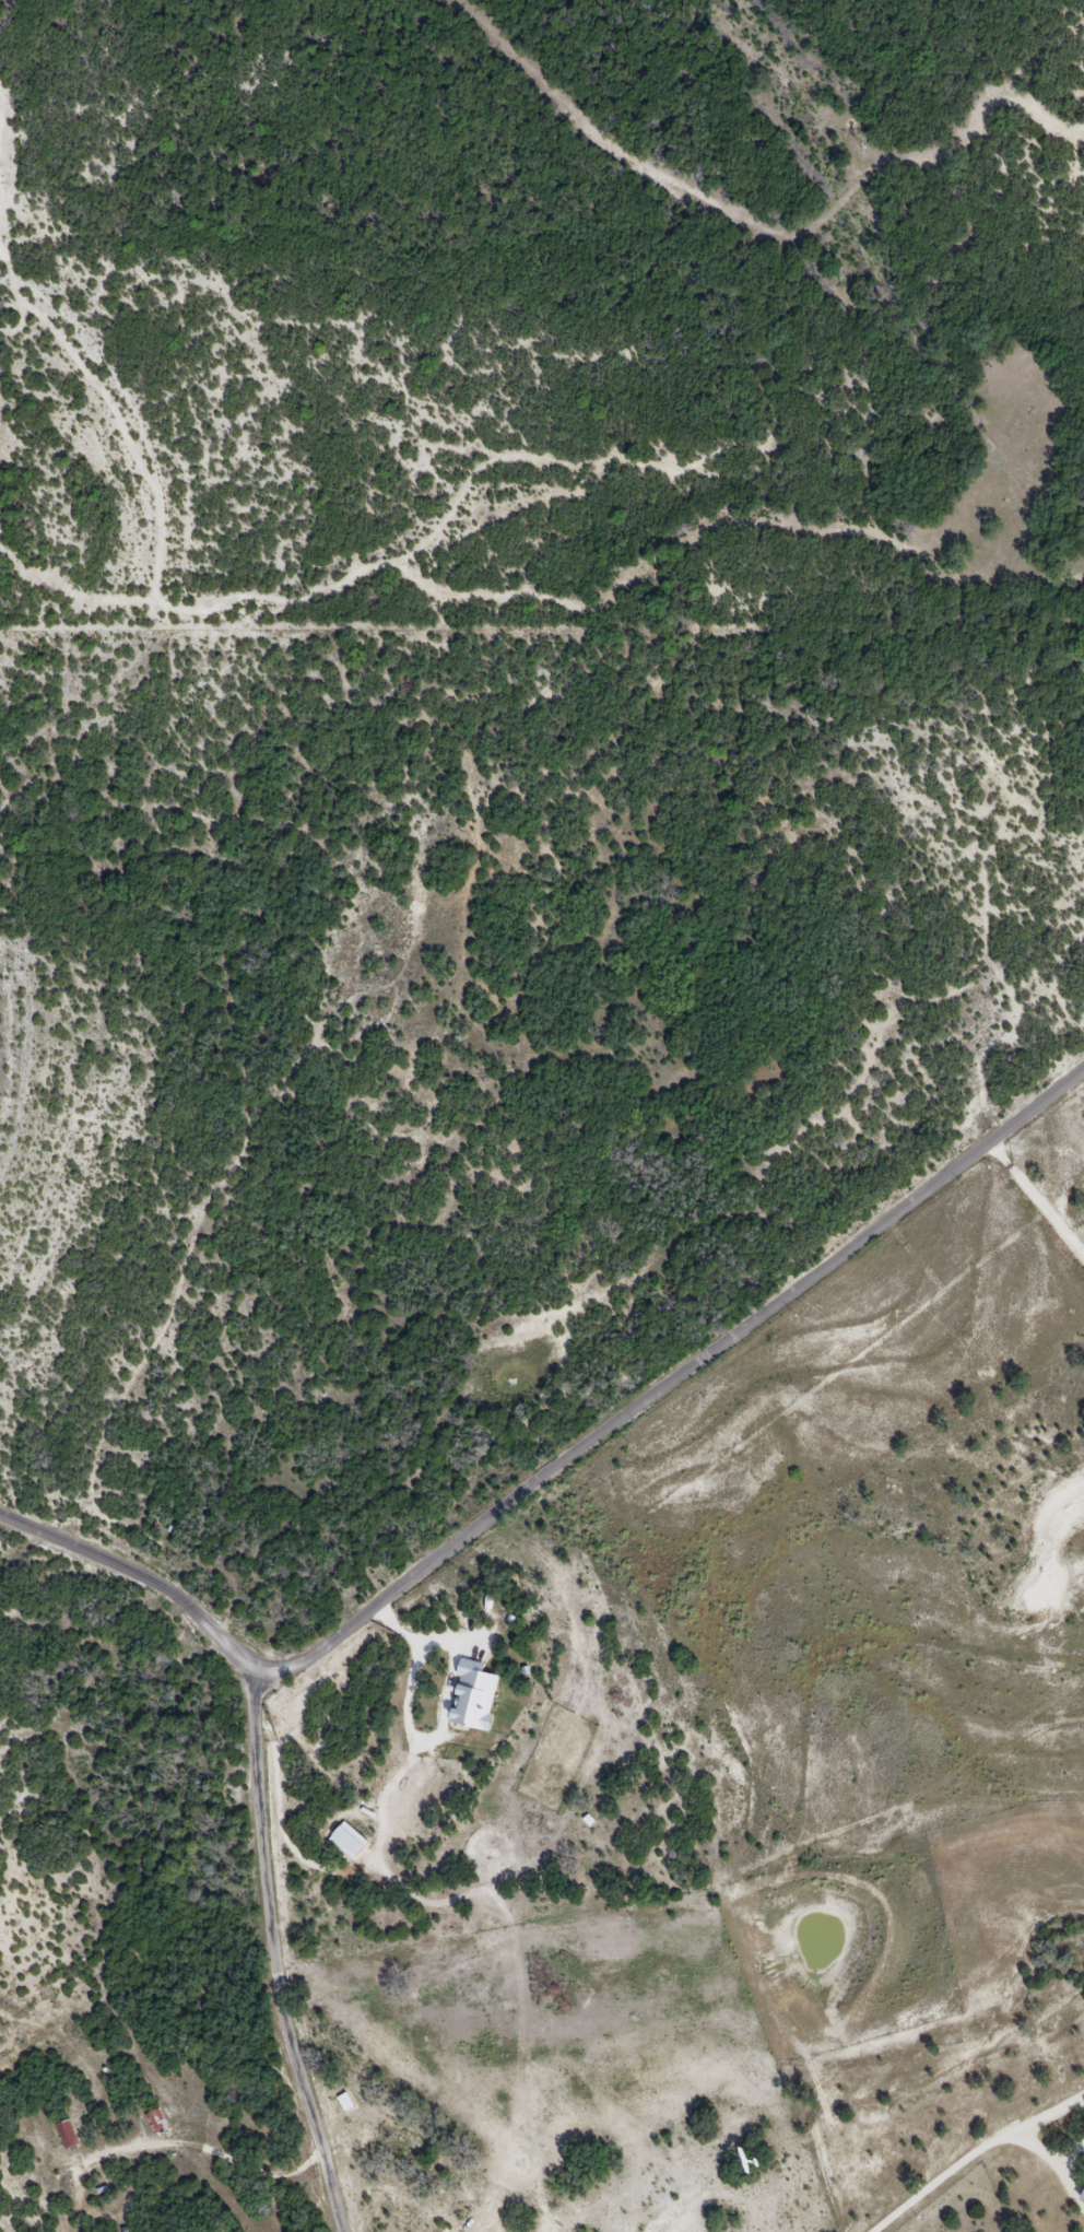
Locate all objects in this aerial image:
road: (1035, 1107)
road: (1036, 1206)
road: (629, 1419)
road: (141, 1576)
road: (417, 1696)
road: (389, 1814)
road: (279, 1954)
road: (492, 2071)
building: (156, 2122)
building: (68, 2135)
road: (205, 2147)
road: (970, 2155)

